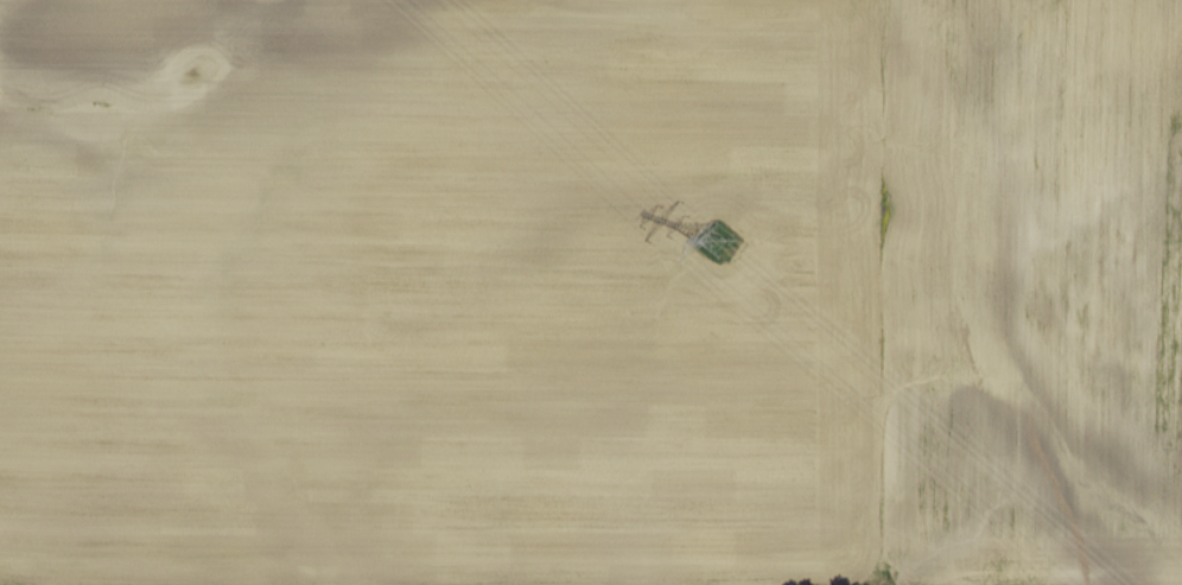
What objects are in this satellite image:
power tower: (716, 240)

